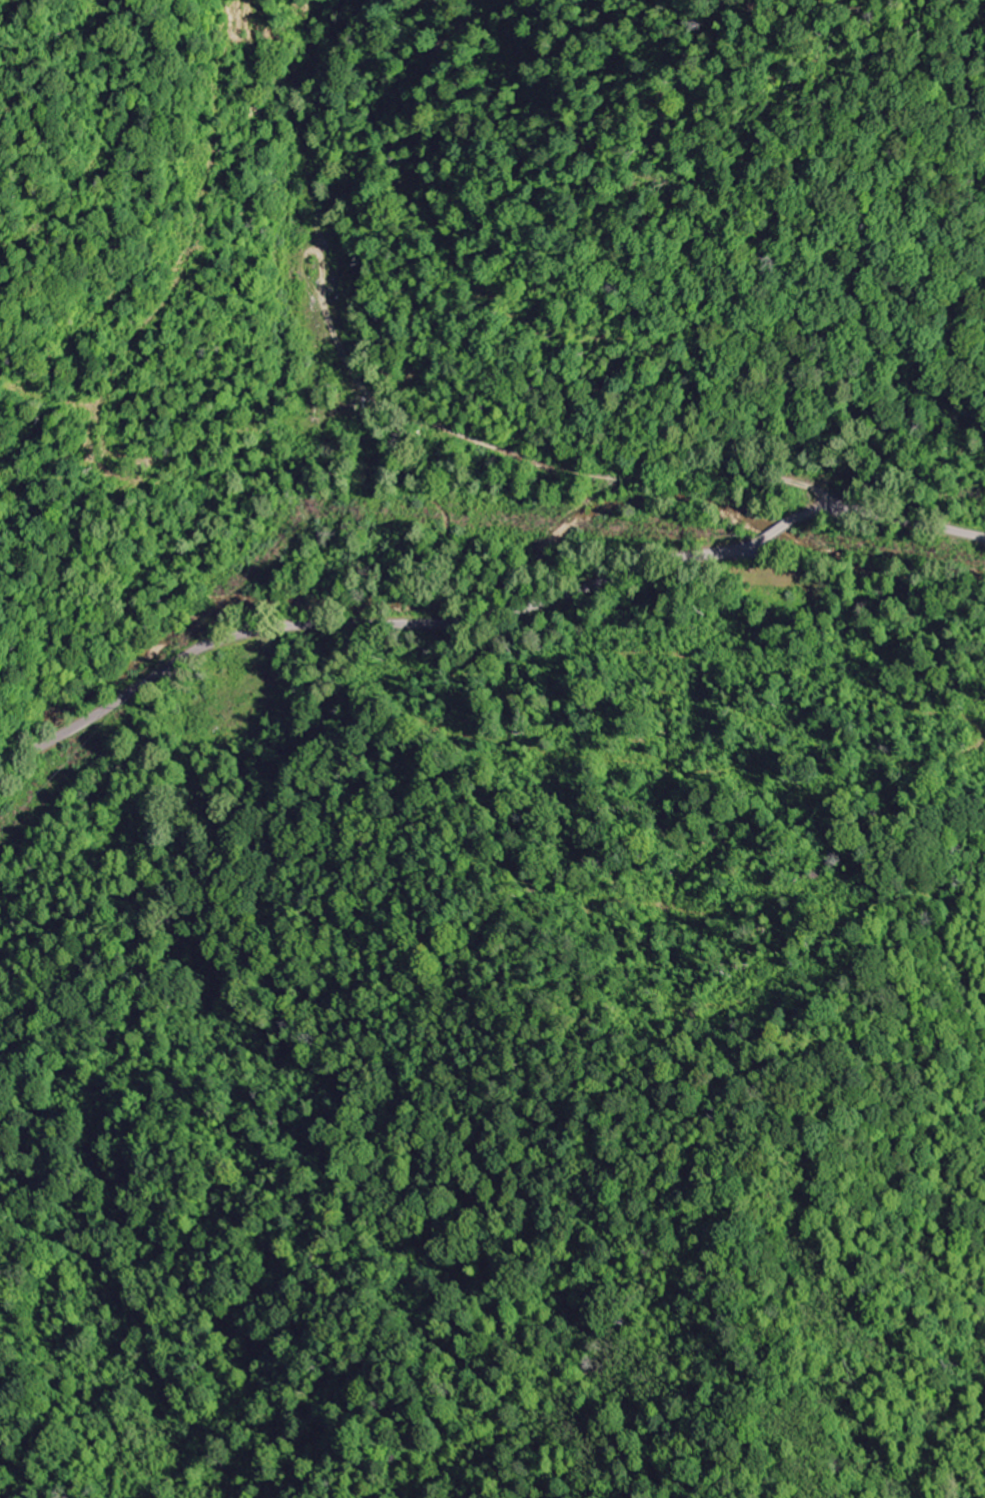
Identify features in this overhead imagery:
road: (482, 607)
road: (47, 1402)

